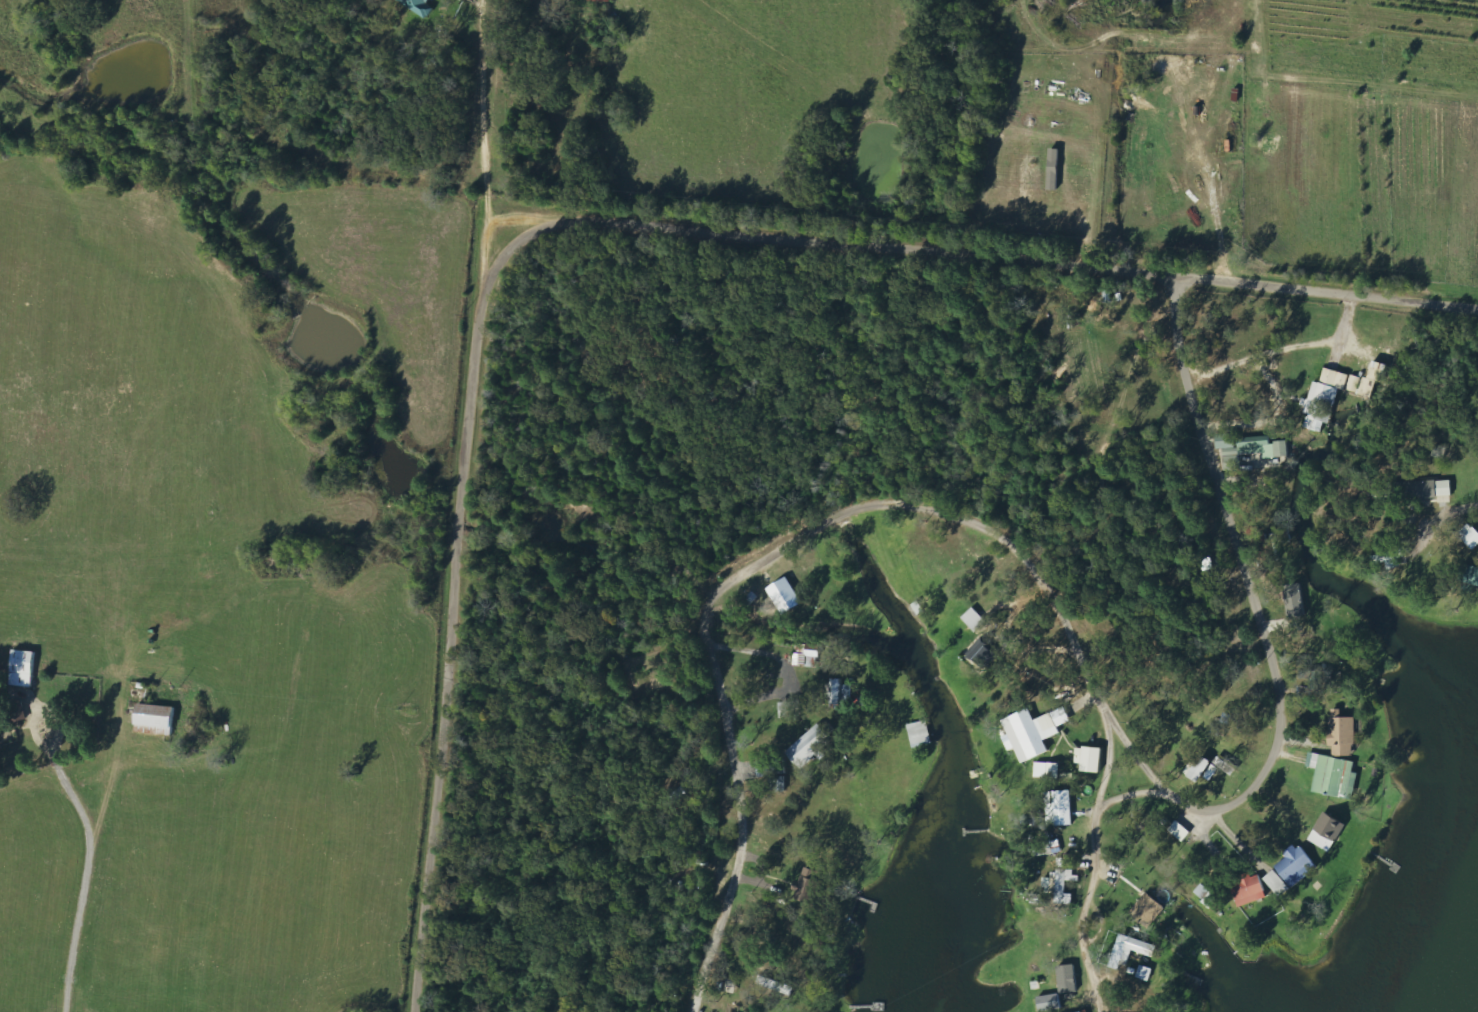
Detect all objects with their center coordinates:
building: (601, 1)
building: (420, 6)
road: (479, 139)
building: (1054, 170)
road: (965, 253)
building: (1373, 379)
building: (1355, 384)
building: (1324, 399)
building: (1227, 441)
building: (1265, 447)
building: (1427, 490)
road: (1436, 500)
building: (1470, 536)
building: (1470, 575)
building: (786, 596)
building: (1295, 601)
road: (454, 646)
building: (982, 653)
building: (23, 669)
road: (719, 676)
building: (841, 693)
building: (19, 712)
building: (155, 716)
building: (1030, 734)
building: (1342, 734)
road: (117, 735)
building: (810, 747)
building: (1090, 759)
road: (1272, 760)
building: (1199, 769)
building: (1048, 771)
building: (1334, 776)
road: (1128, 795)
building: (1060, 808)
building: (1180, 831)
building: (1328, 832)
road: (1095, 861)
building: (1297, 866)
building: (1278, 883)
building: (809, 886)
building: (1061, 886)
building: (1250, 889)
building: (1202, 891)
building: (1149, 910)
building: (1131, 951)
building: (1145, 973)
building: (1068, 979)
building: (1050, 1003)
building: (1082, 1011)

